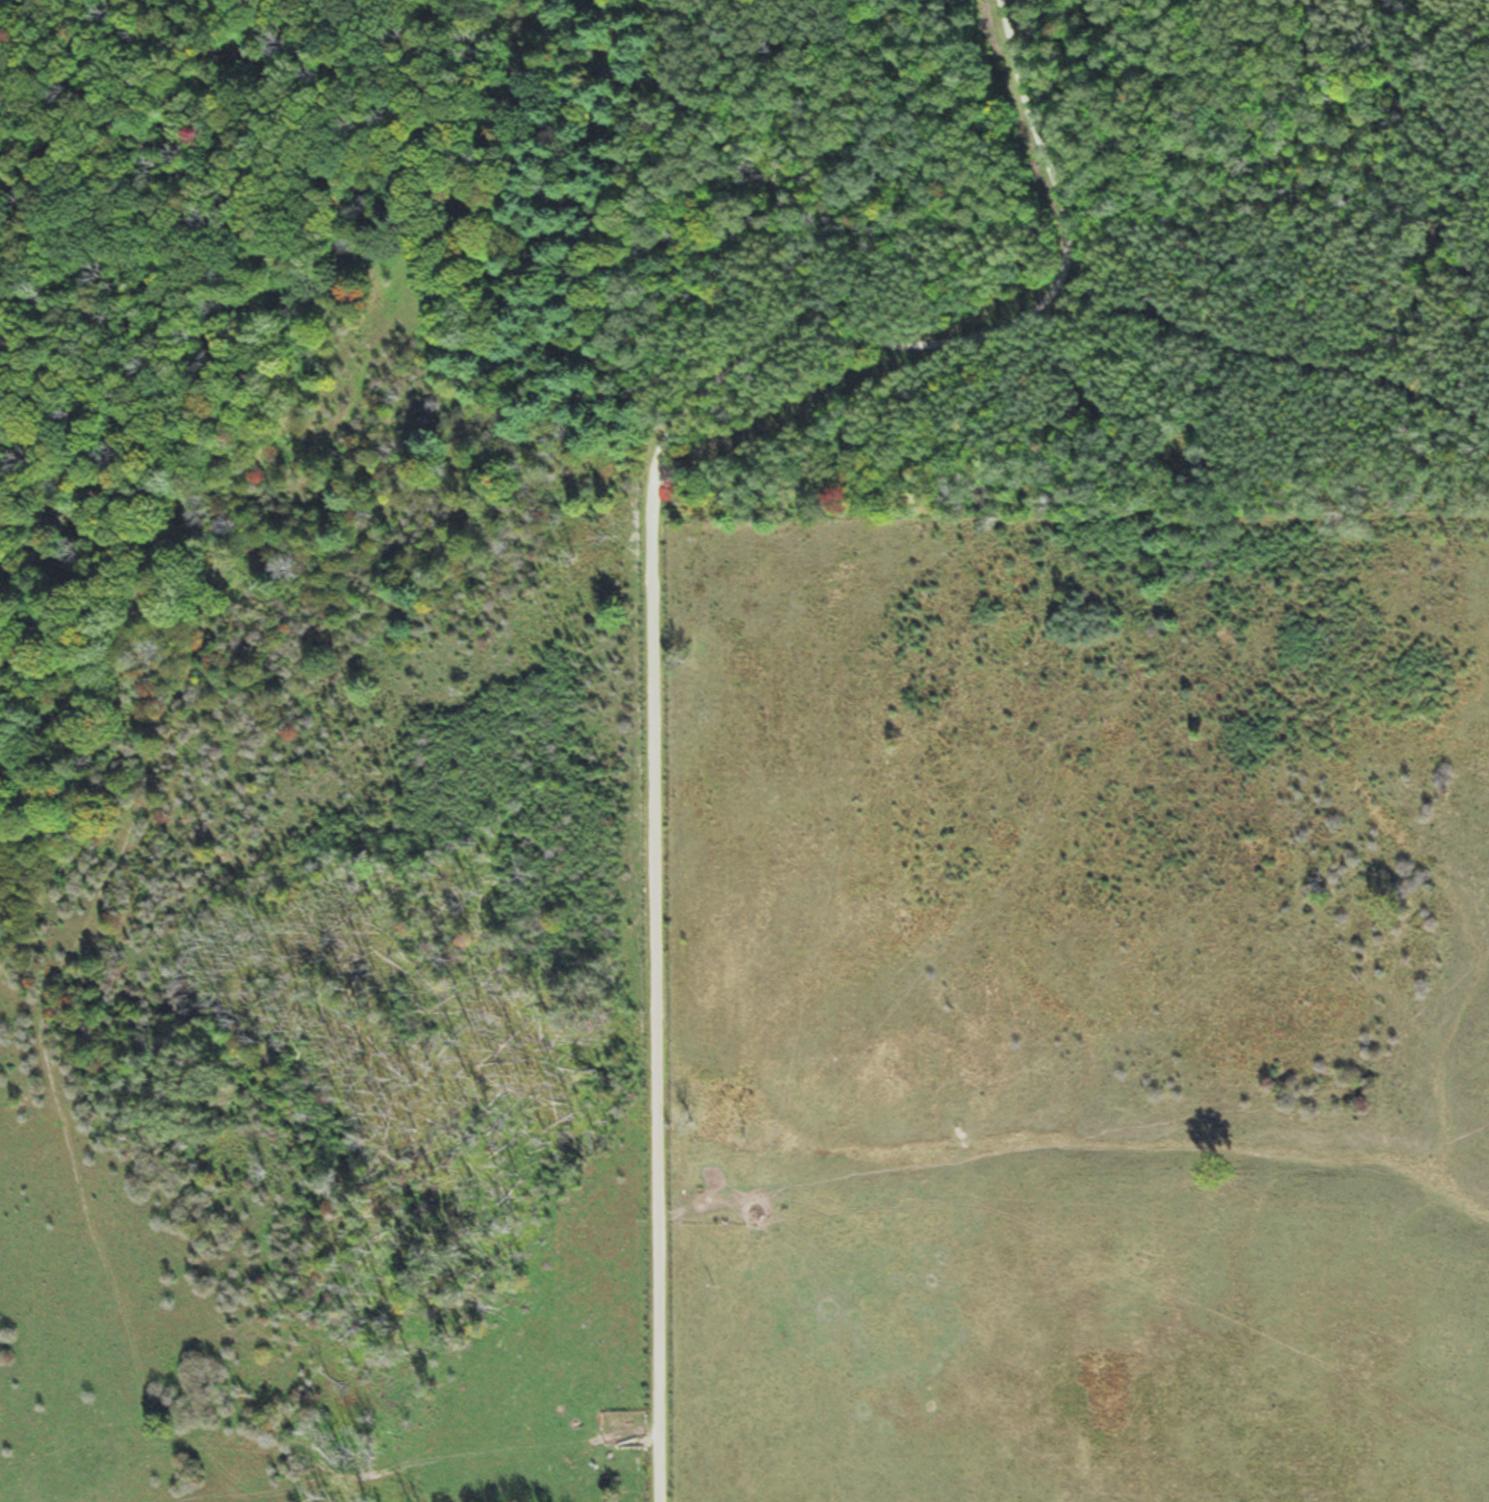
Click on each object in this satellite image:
road: (659, 585)
road: (656, 1439)

